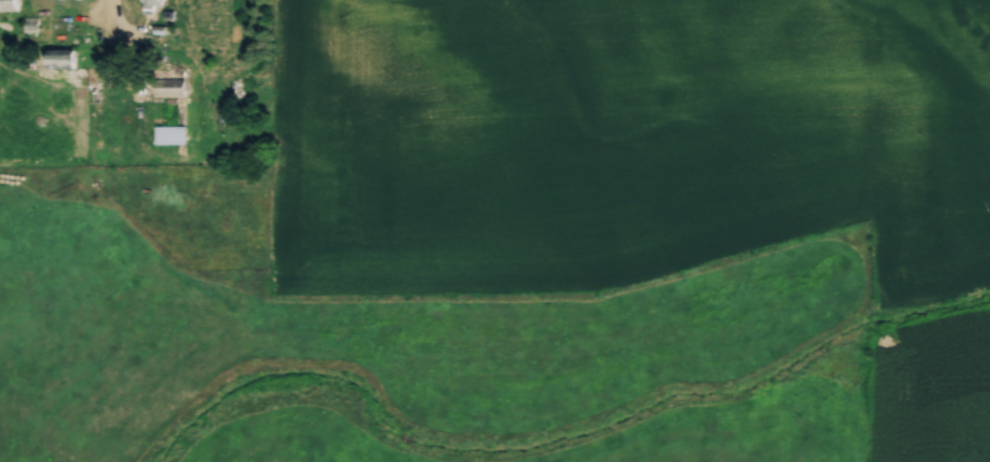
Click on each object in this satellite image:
building: (155, 2)
building: (10, 4)
road: (112, 32)
building: (64, 59)
building: (172, 86)
building: (173, 133)

